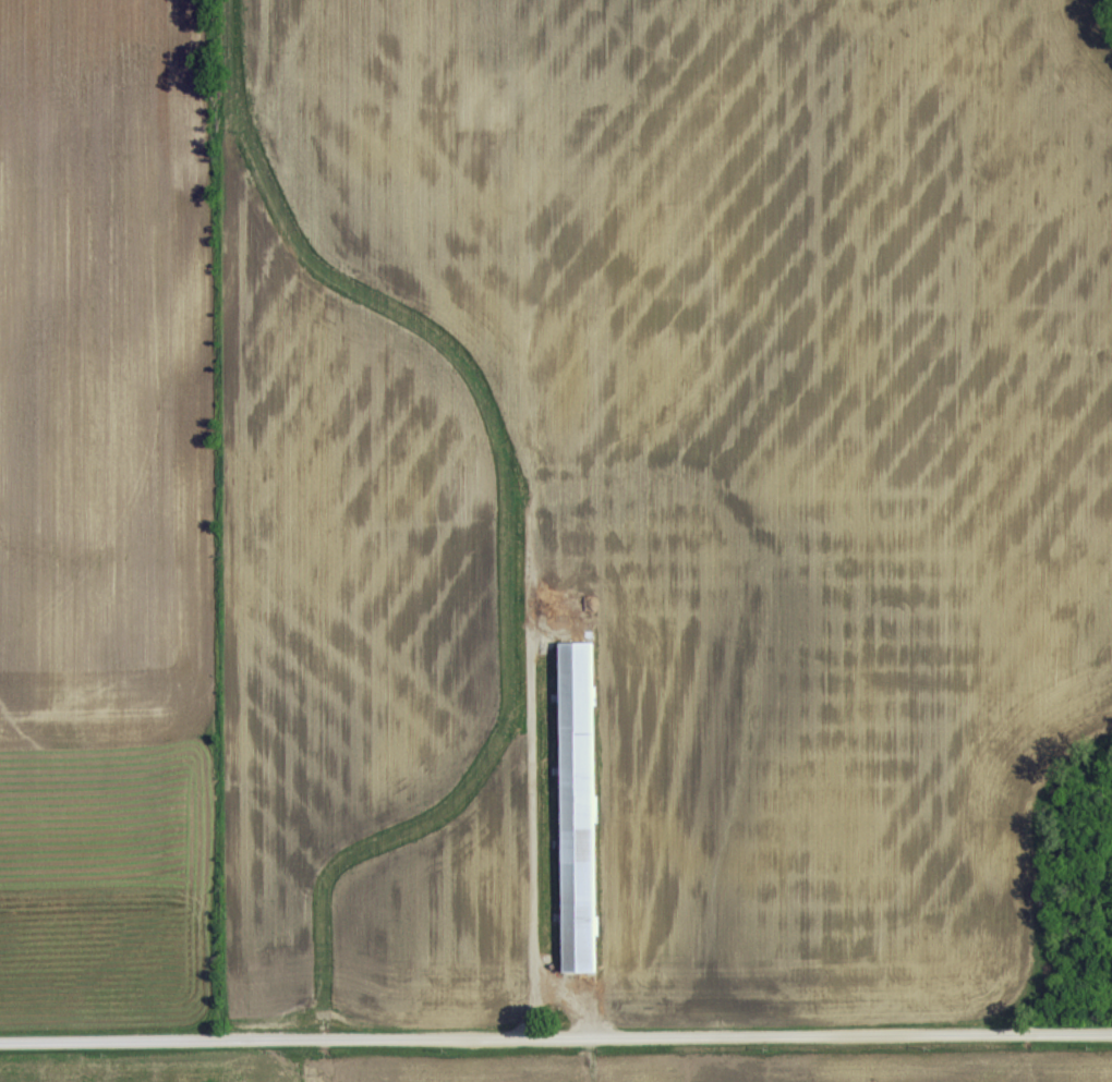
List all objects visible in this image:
building: (576, 805)
road: (541, 843)
road: (556, 1035)

